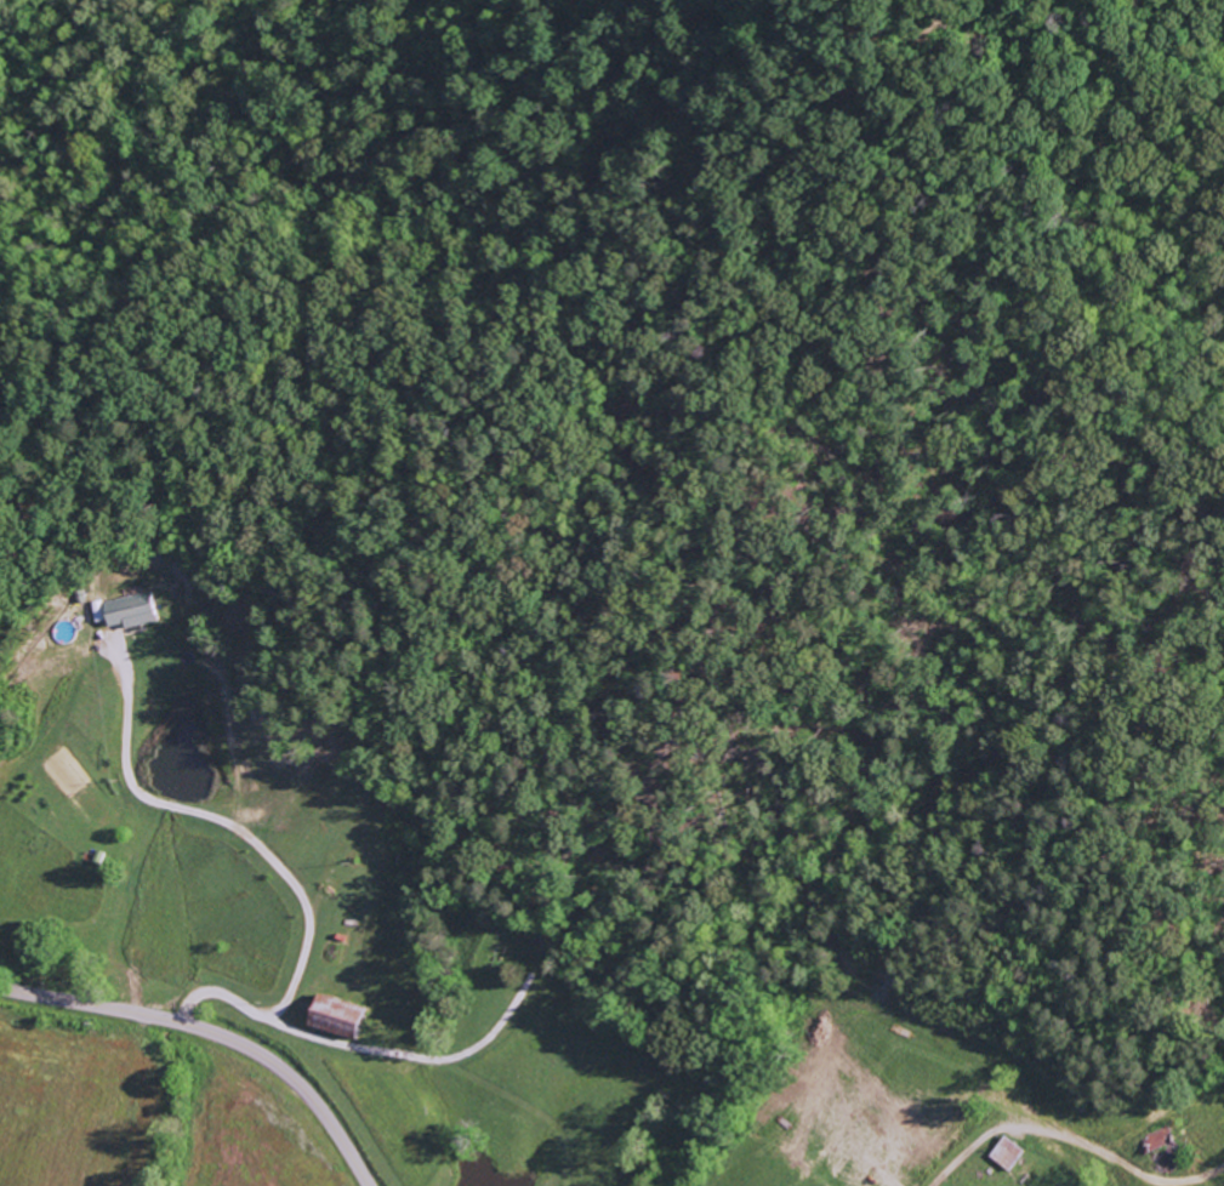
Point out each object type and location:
building: (132, 611)
building: (341, 1017)
road: (215, 1033)
building: (1008, 1154)

